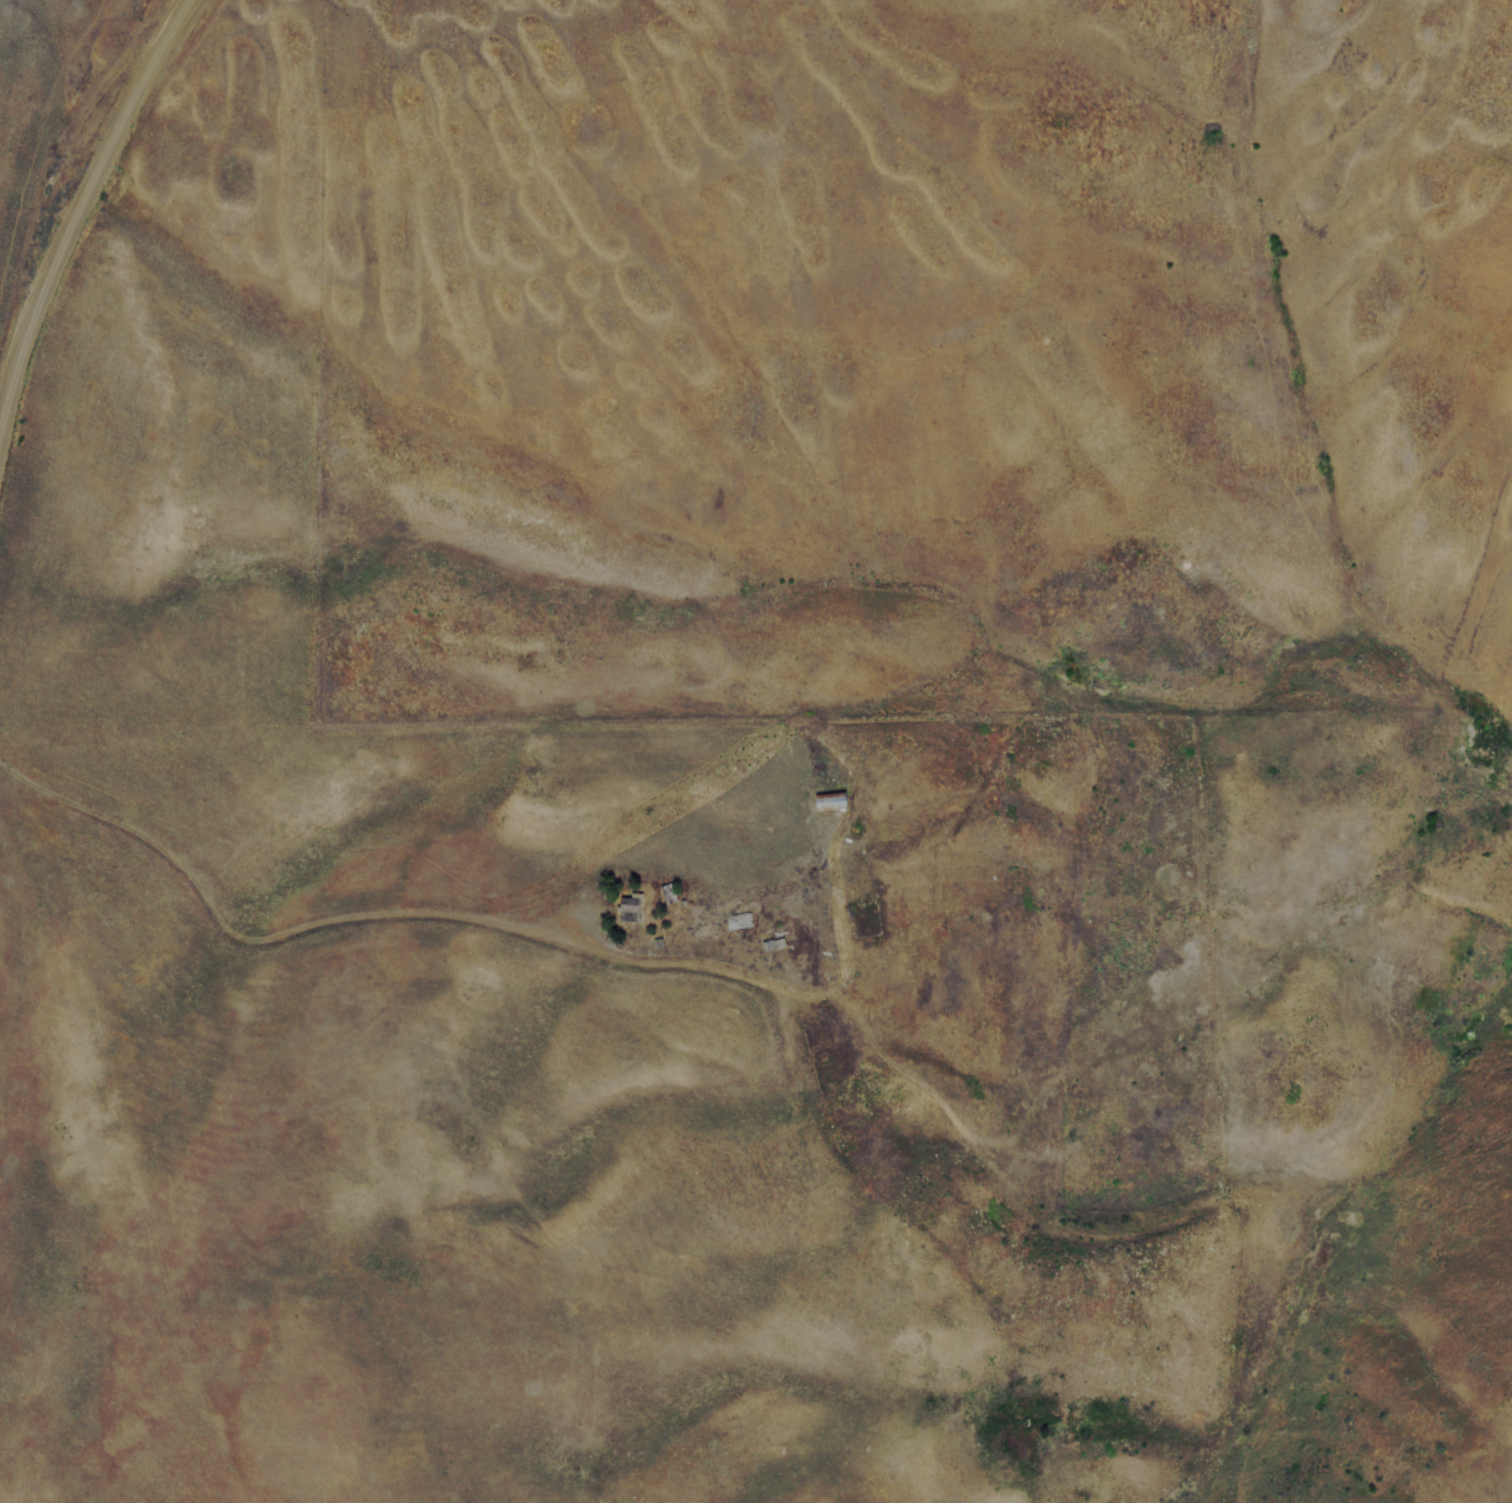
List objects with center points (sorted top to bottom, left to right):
road: (77, 206)

